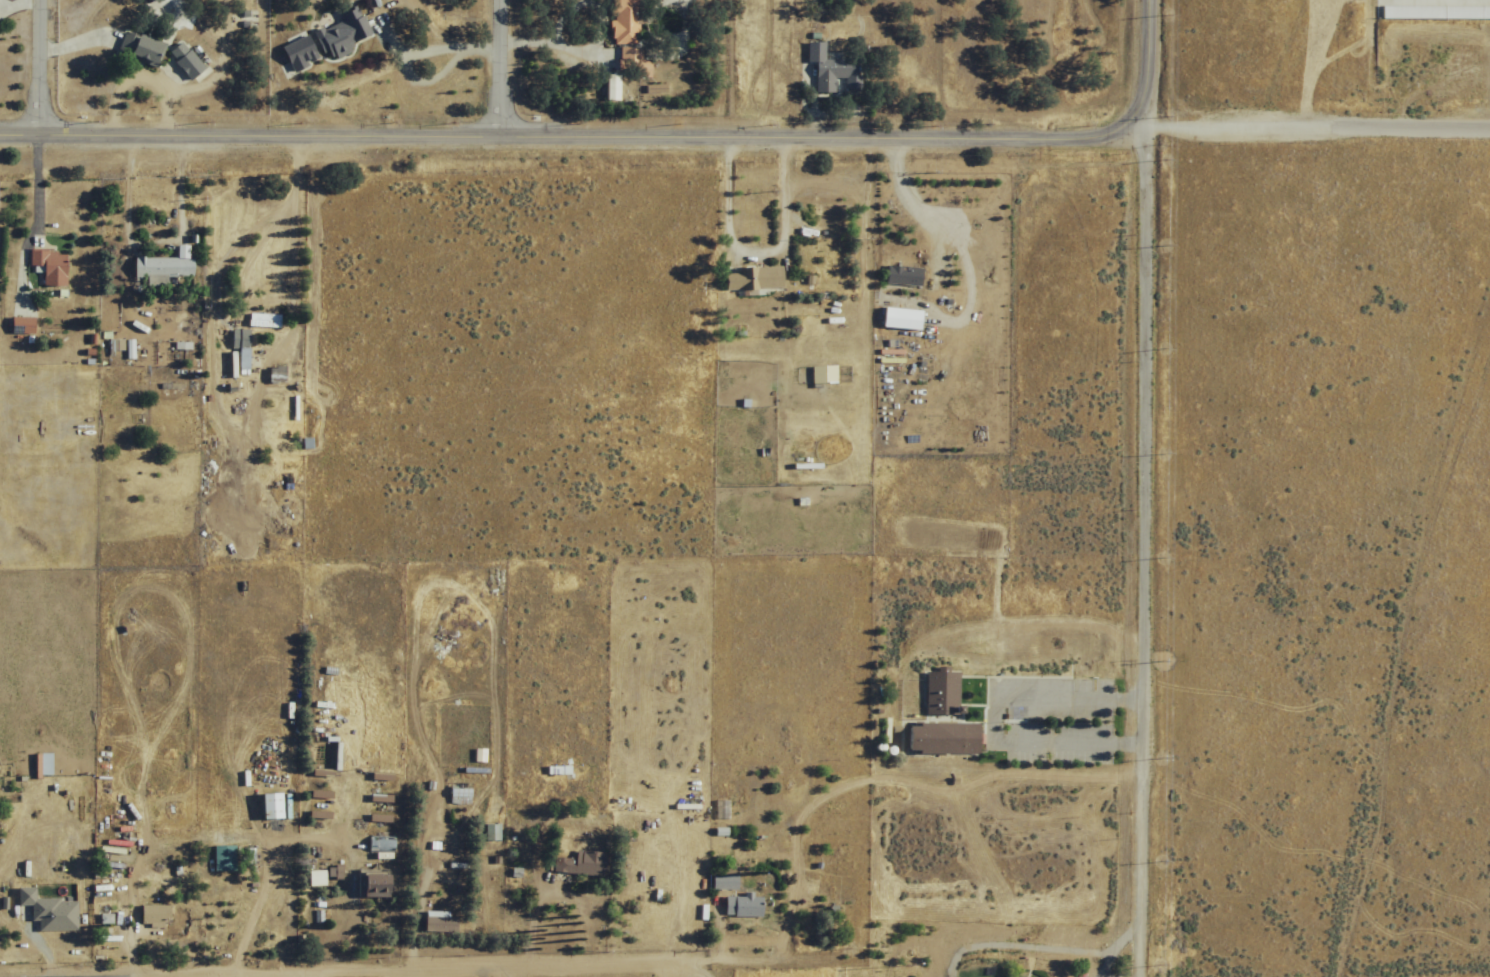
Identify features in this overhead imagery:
building: (1438, 11)
building: (618, 22)
building: (336, 34)
road: (1147, 41)
building: (136, 49)
building: (181, 60)
building: (628, 63)
road: (483, 66)
road: (29, 69)
building: (829, 71)
building: (606, 88)
road: (1318, 119)
road: (587, 134)
road: (919, 206)
road: (755, 250)
building: (45, 265)
building: (156, 267)
building: (901, 276)
building: (750, 280)
building: (258, 319)
building: (16, 324)
building: (233, 360)
building: (270, 373)
building: (819, 375)
road: (1147, 539)
building: (939, 692)
building: (939, 738)
building: (38, 764)
building: (75, 765)
building: (454, 793)
building: (374, 797)
building: (262, 805)
building: (373, 817)
building: (375, 847)
building: (574, 863)
building: (720, 881)
building: (364, 883)
building: (738, 905)
building: (42, 910)
building: (147, 915)
building: (430, 921)
road: (359, 960)
road: (552, 966)
road: (500, 967)
road: (304, 970)
road: (34, 974)

